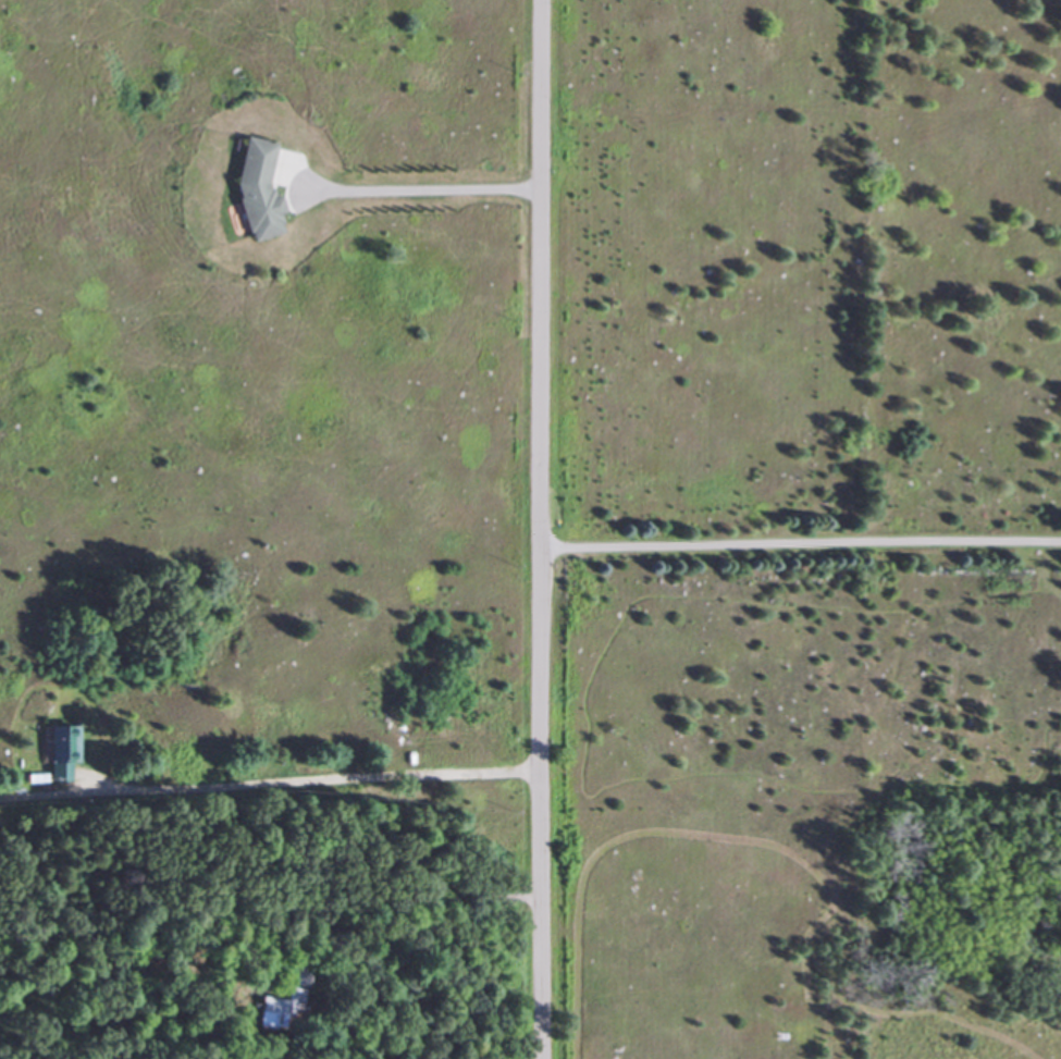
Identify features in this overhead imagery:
road: (414, 186)
building: (252, 192)
road: (536, 529)
road: (799, 540)
building: (58, 751)
road: (268, 776)
building: (279, 1011)

